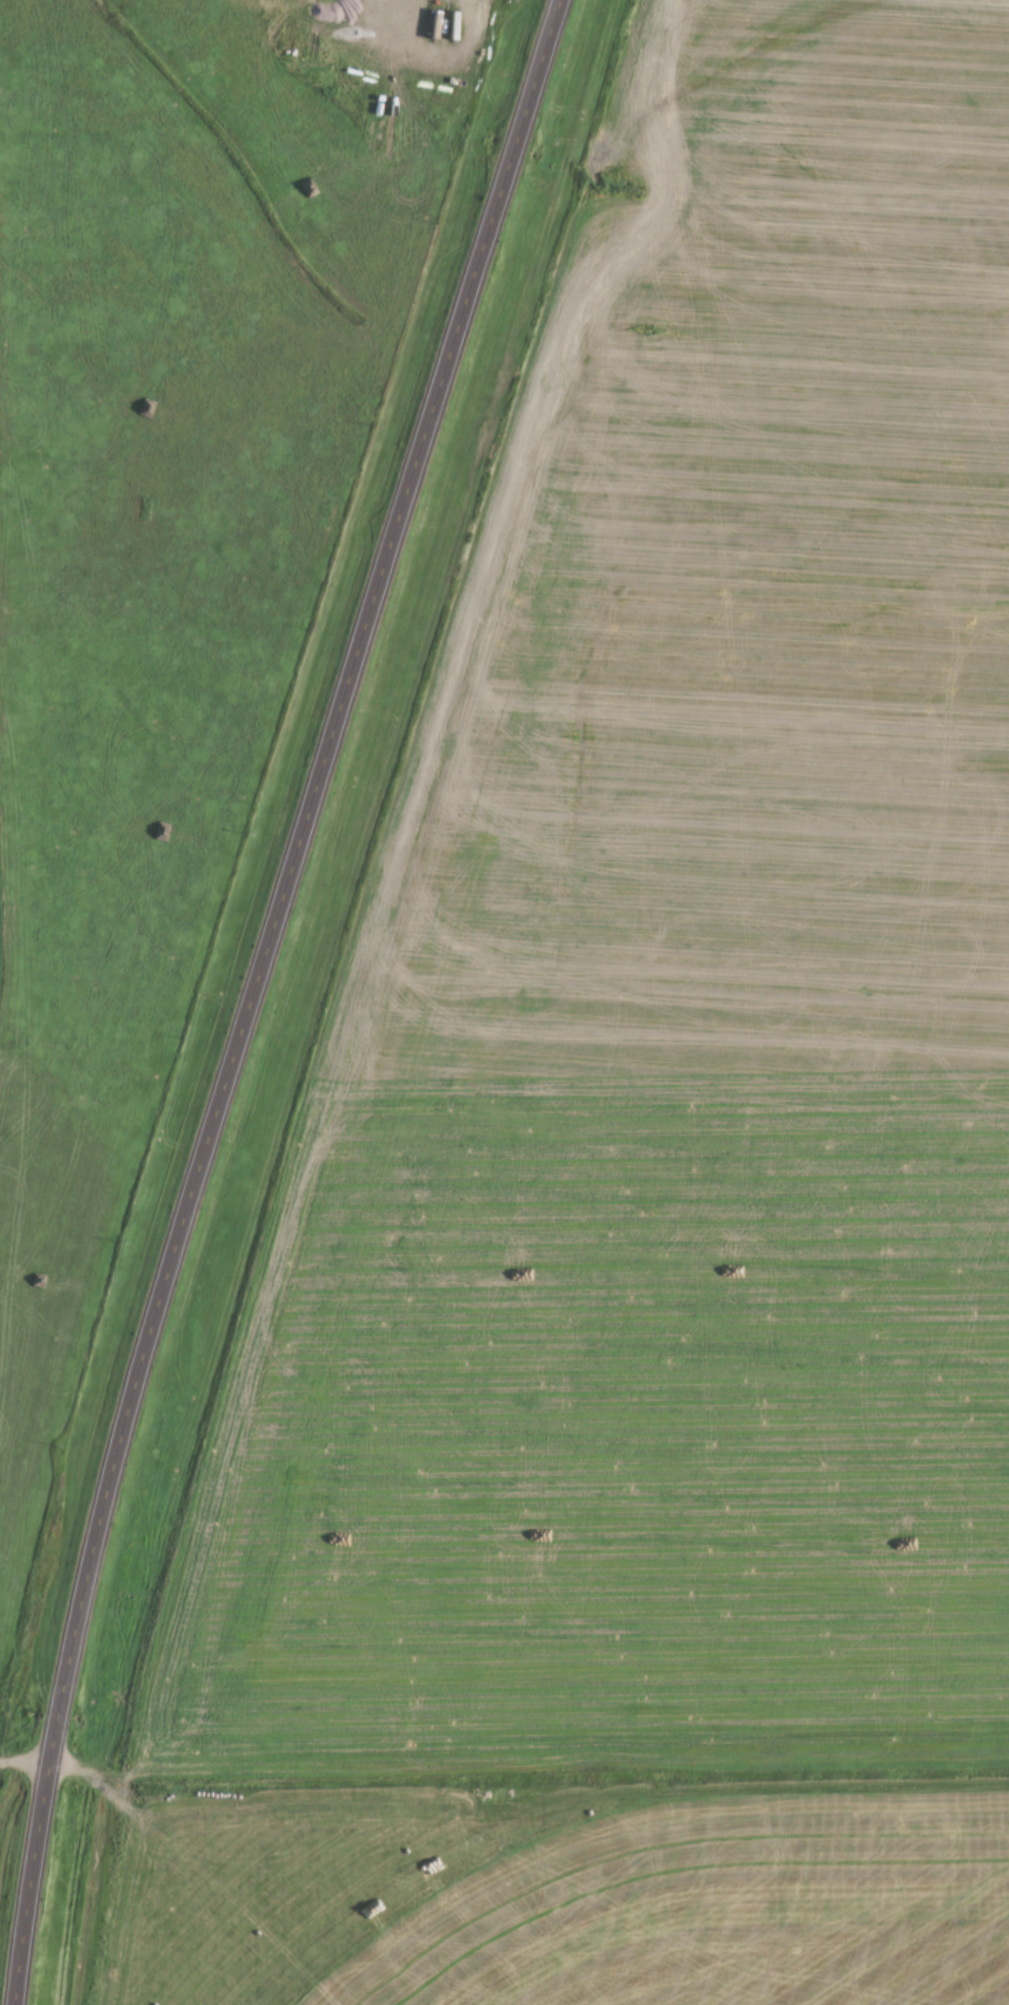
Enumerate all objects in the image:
building: (2, 347)
building: (59, 357)
building: (767, 808)
road: (255, 994)
building: (793, 1081)
building: (892, 1184)
building: (729, 1493)

